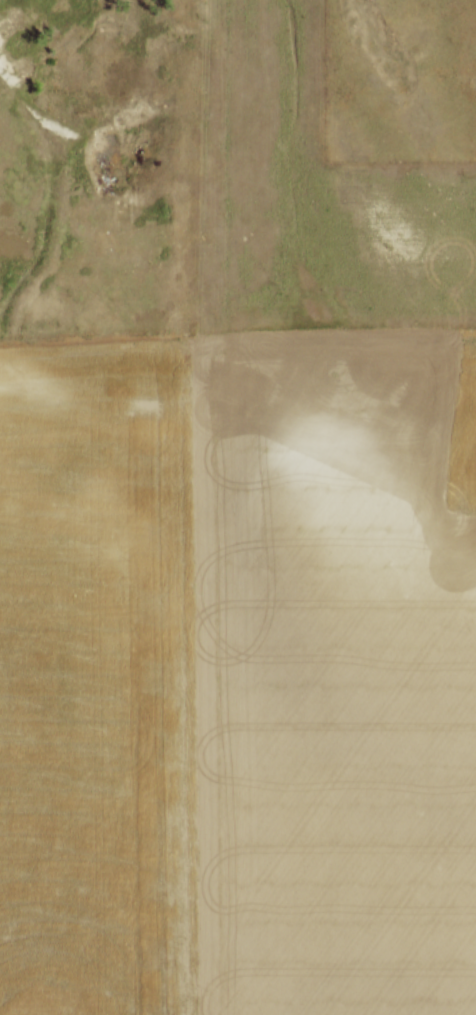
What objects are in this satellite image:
crop: (309, 191)
crop: (237, 679)

